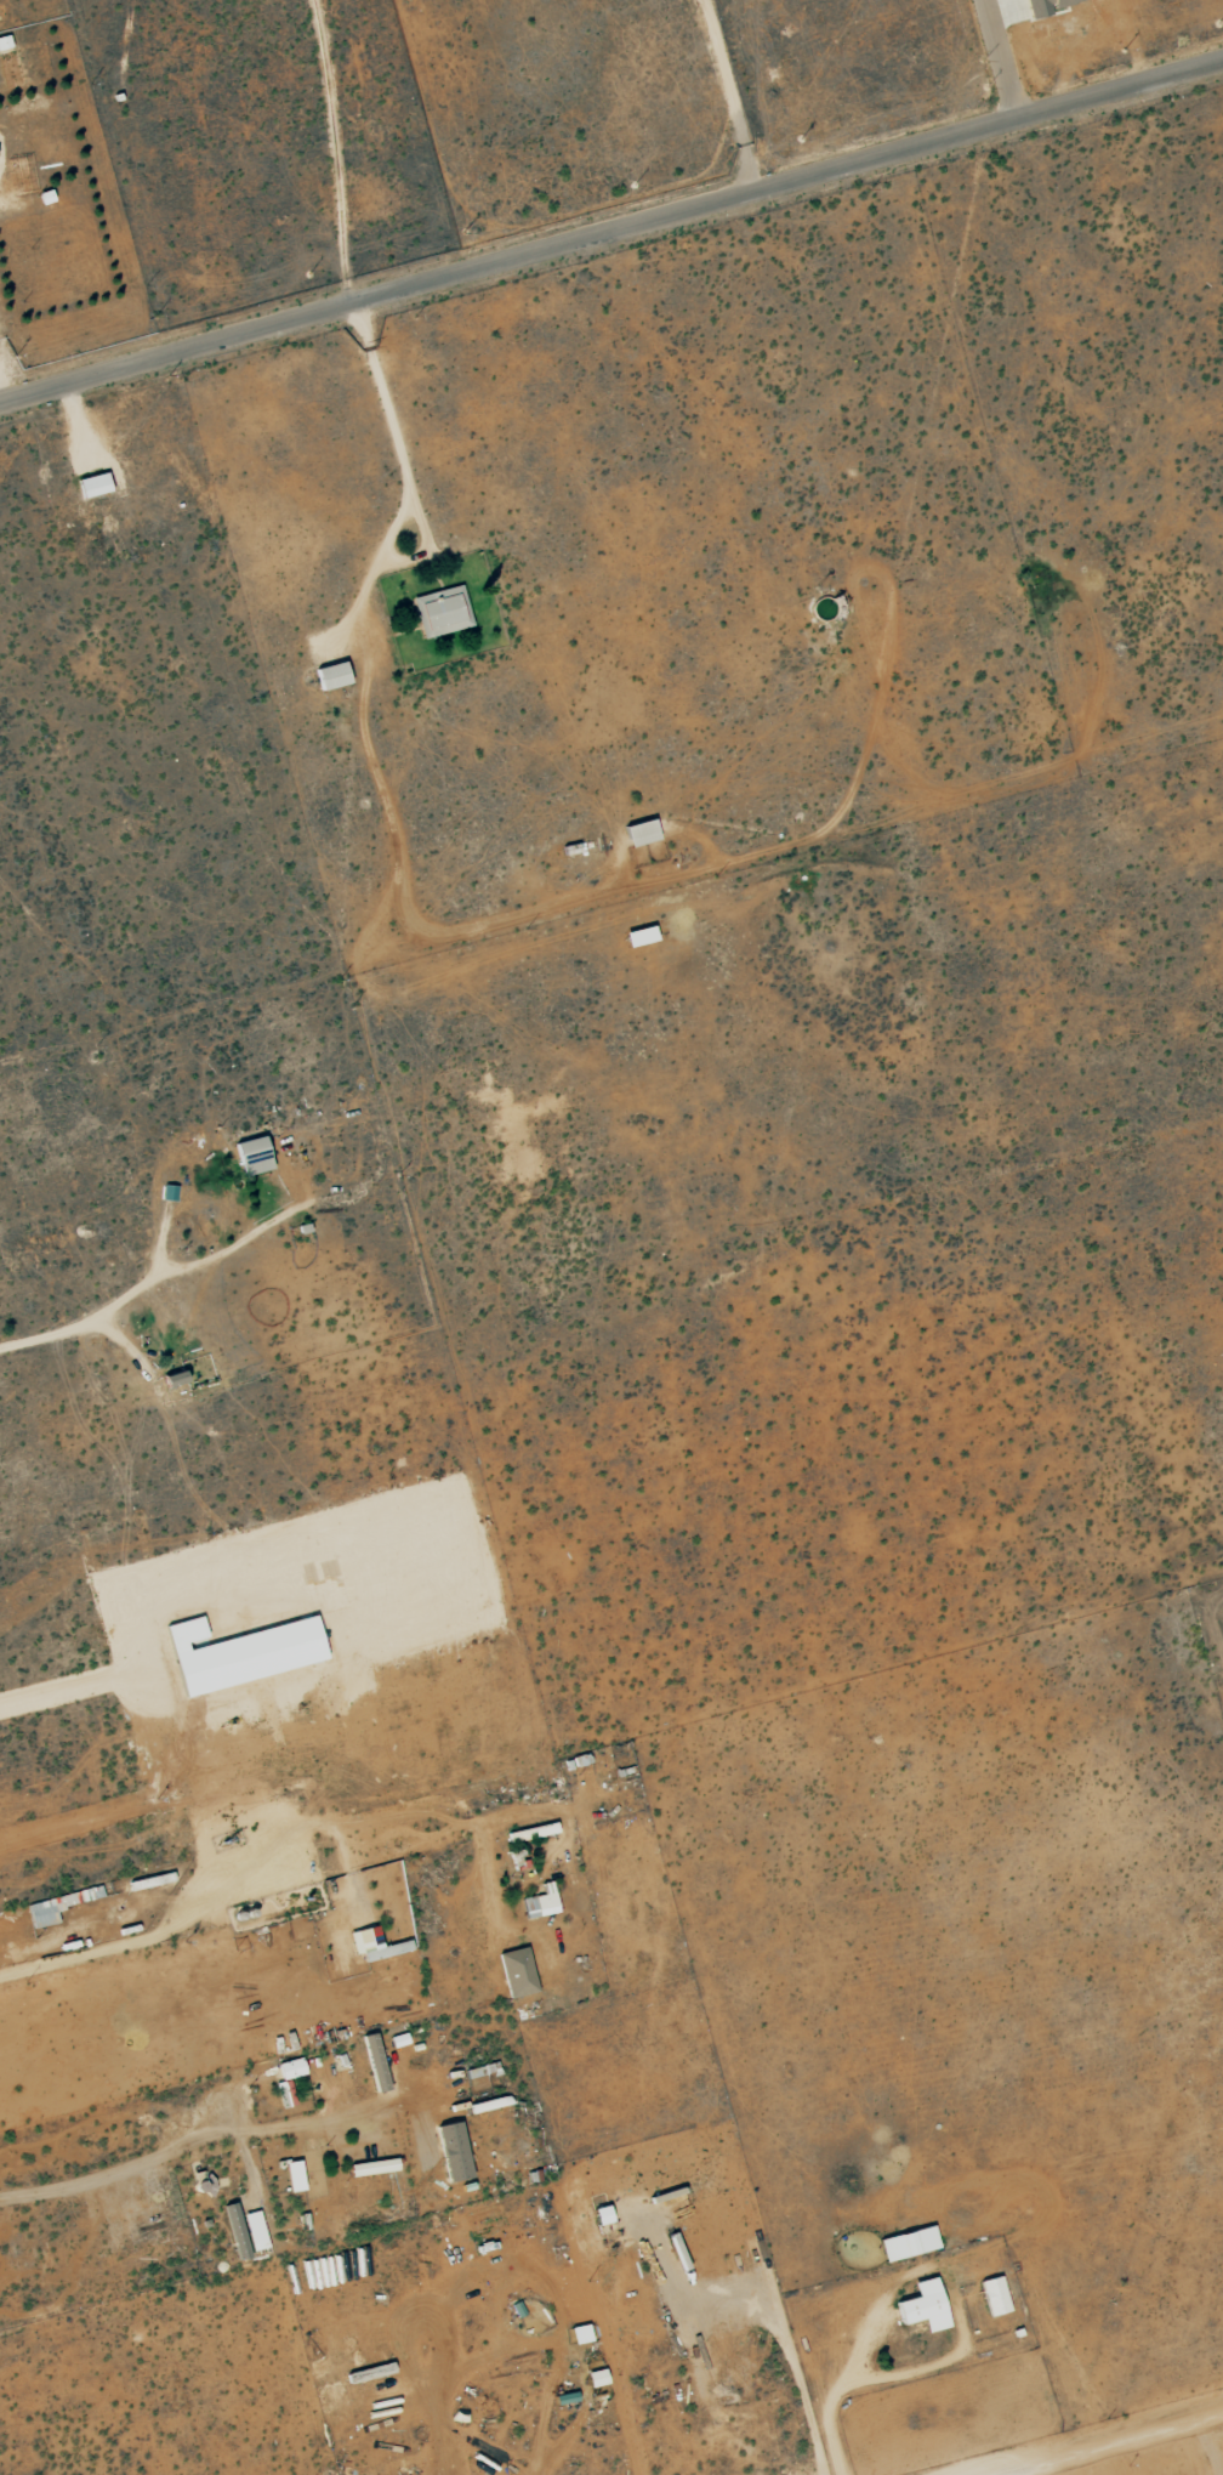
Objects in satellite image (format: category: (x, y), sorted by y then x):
building: (1046, 6)
road: (1000, 61)
building: (10, 62)
road: (729, 96)
building: (23, 175)
road: (611, 233)
road: (404, 473)
building: (96, 484)
building: (442, 611)
building: (335, 674)
building: (643, 831)
building: (642, 935)
building: (256, 1153)
building: (172, 1191)
road: (69, 1329)
building: (177, 1375)
building: (244, 1651)
building: (534, 1830)
building: (542, 1901)
road: (188, 1906)
building: (51, 1908)
building: (376, 1943)
building: (519, 1970)
building: (292, 2067)
road: (188, 2147)
building: (455, 2150)
building: (375, 2165)
building: (296, 2175)
building: (604, 2213)
building: (256, 2229)
building: (910, 2242)
building: (996, 2294)
building: (927, 2305)
building: (582, 2333)
road: (795, 2374)
building: (598, 2378)
building: (568, 2396)
road: (1113, 2445)
road: (539, 2451)

